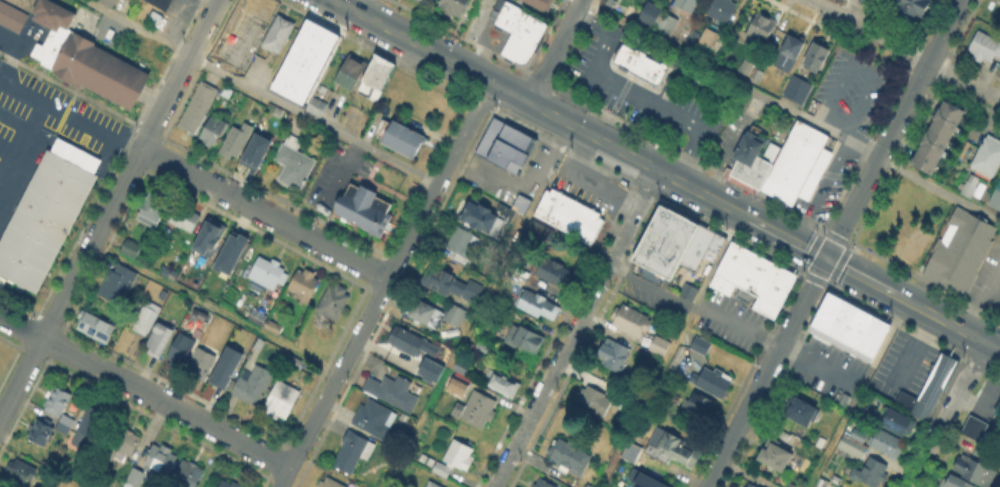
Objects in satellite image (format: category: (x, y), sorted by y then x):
building: (423, 0)
building: (109, 2)
building: (160, 4)
building: (538, 4)
building: (686, 5)
building: (454, 6)
building: (911, 8)
building: (722, 11)
building: (50, 12)
building: (11, 15)
building: (657, 17)
building: (761, 28)
building: (240, 33)
building: (521, 33)
building: (279, 35)
building: (705, 36)
building: (697, 40)
building: (49, 44)
building: (986, 47)
road: (904, 49)
road: (553, 50)
building: (792, 51)
building: (817, 58)
building: (304, 60)
building: (642, 65)
building: (98, 67)
building: (352, 73)
building: (375, 78)
road: (726, 79)
building: (795, 88)
road: (261, 92)
road: (633, 94)
building: (198, 108)
building: (318, 108)
parking lot: (51, 111)
road: (70, 116)
building: (213, 133)
building: (937, 137)
building: (401, 139)
road: (20, 140)
building: (236, 142)
building: (507, 146)
building: (253, 150)
building: (768, 151)
building: (988, 158)
building: (747, 160)
building: (294, 164)
building: (795, 164)
road: (666, 174)
building: (974, 187)
road: (939, 190)
building: (996, 200)
building: (366, 205)
building: (153, 208)
road: (109, 210)
road: (265, 214)
building: (47, 215)
building: (491, 215)
building: (570, 217)
building: (185, 218)
building: (540, 234)
building: (209, 237)
building: (670, 241)
road: (833, 243)
building: (461, 245)
building: (131, 249)
building: (228, 251)
building: (948, 252)
traffic signals: (825, 258)
building: (549, 273)
building: (265, 274)
building: (755, 280)
building: (118, 284)
road: (384, 284)
building: (303, 285)
building: (452, 285)
road: (650, 285)
building: (690, 293)
building: (334, 303)
road: (478, 306)
building: (535, 306)
road: (215, 309)
building: (426, 313)
building: (456, 316)
building: (258, 318)
building: (147, 319)
building: (631, 321)
road: (736, 323)
building: (94, 327)
building: (273, 328)
road: (575, 328)
building: (850, 328)
building: (526, 338)
road: (886, 338)
building: (160, 339)
building: (408, 342)
building: (701, 346)
building: (656, 350)
road: (669, 350)
building: (180, 352)
building: (445, 352)
building: (615, 355)
building: (198, 361)
building: (224, 366)
building: (428, 369)
building: (461, 369)
building: (714, 381)
building: (504, 384)
building: (254, 386)
building: (455, 386)
building: (930, 390)
road: (144, 392)
building: (393, 393)
building: (672, 397)
building: (596, 400)
building: (282, 401)
building: (625, 401)
building: (60, 409)
building: (701, 409)
building: (478, 410)
building: (802, 410)
building: (998, 412)
road: (946, 414)
building: (375, 419)
building: (897, 422)
building: (88, 428)
building: (975, 429)
building: (41, 431)
building: (123, 443)
building: (886, 443)
building: (855, 444)
building: (678, 449)
building: (353, 452)
building: (633, 452)
building: (772, 456)
building: (570, 457)
building: (456, 459)
building: (160, 460)
road: (47, 461)
building: (975, 471)
building: (20, 472)
building: (870, 474)
building: (187, 475)
building: (140, 478)
building: (643, 479)
building: (953, 482)
building: (230, 484)
building: (331, 484)
building: (543, 484)
building: (432, 485)
building: (588, 485)
building: (751, 485)
building: (793, 486)

